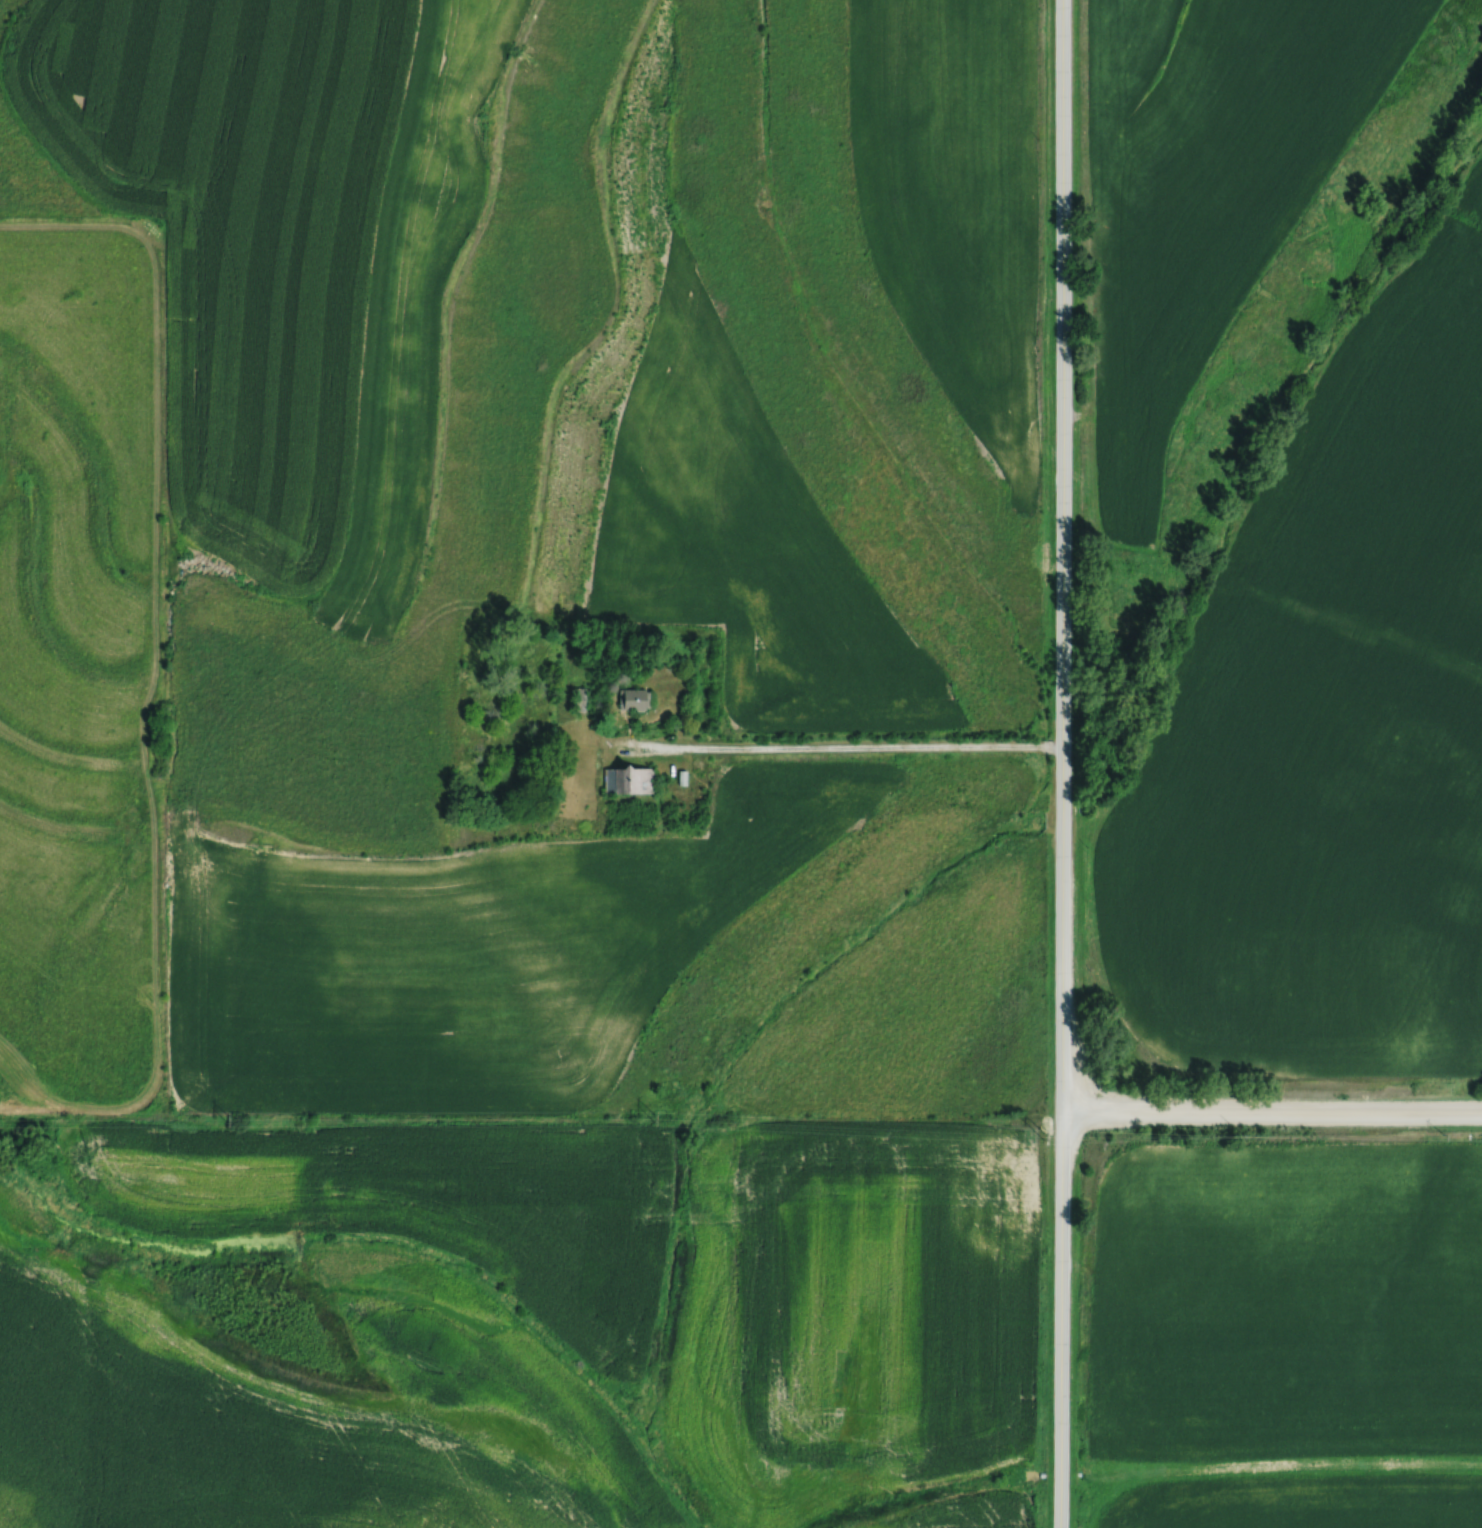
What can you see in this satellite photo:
building: (580, 699)
building: (634, 699)
road: (833, 747)
road: (1047, 748)
road: (1057, 748)
road: (1064, 764)
building: (628, 779)
road: (1273, 1112)
power tower: (654, 1116)
power tower: (227, 1121)
power tower: (1045, 1136)

